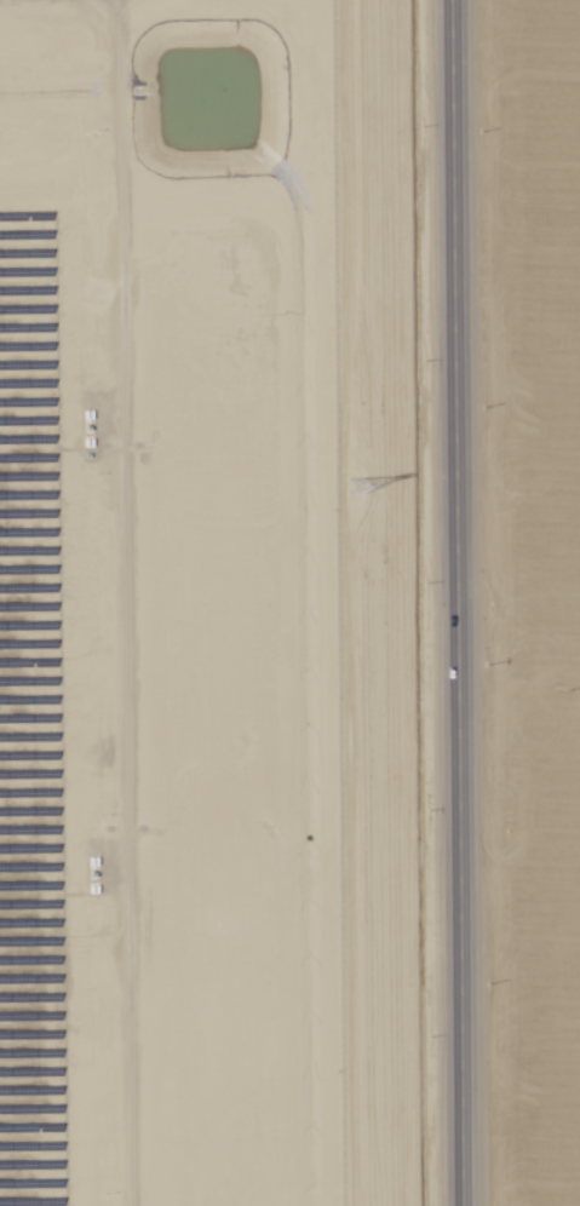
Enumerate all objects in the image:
power tower: (352, 484)
crop: (524, 587)
road: (441, 603)
solar farm: (163, 604)

